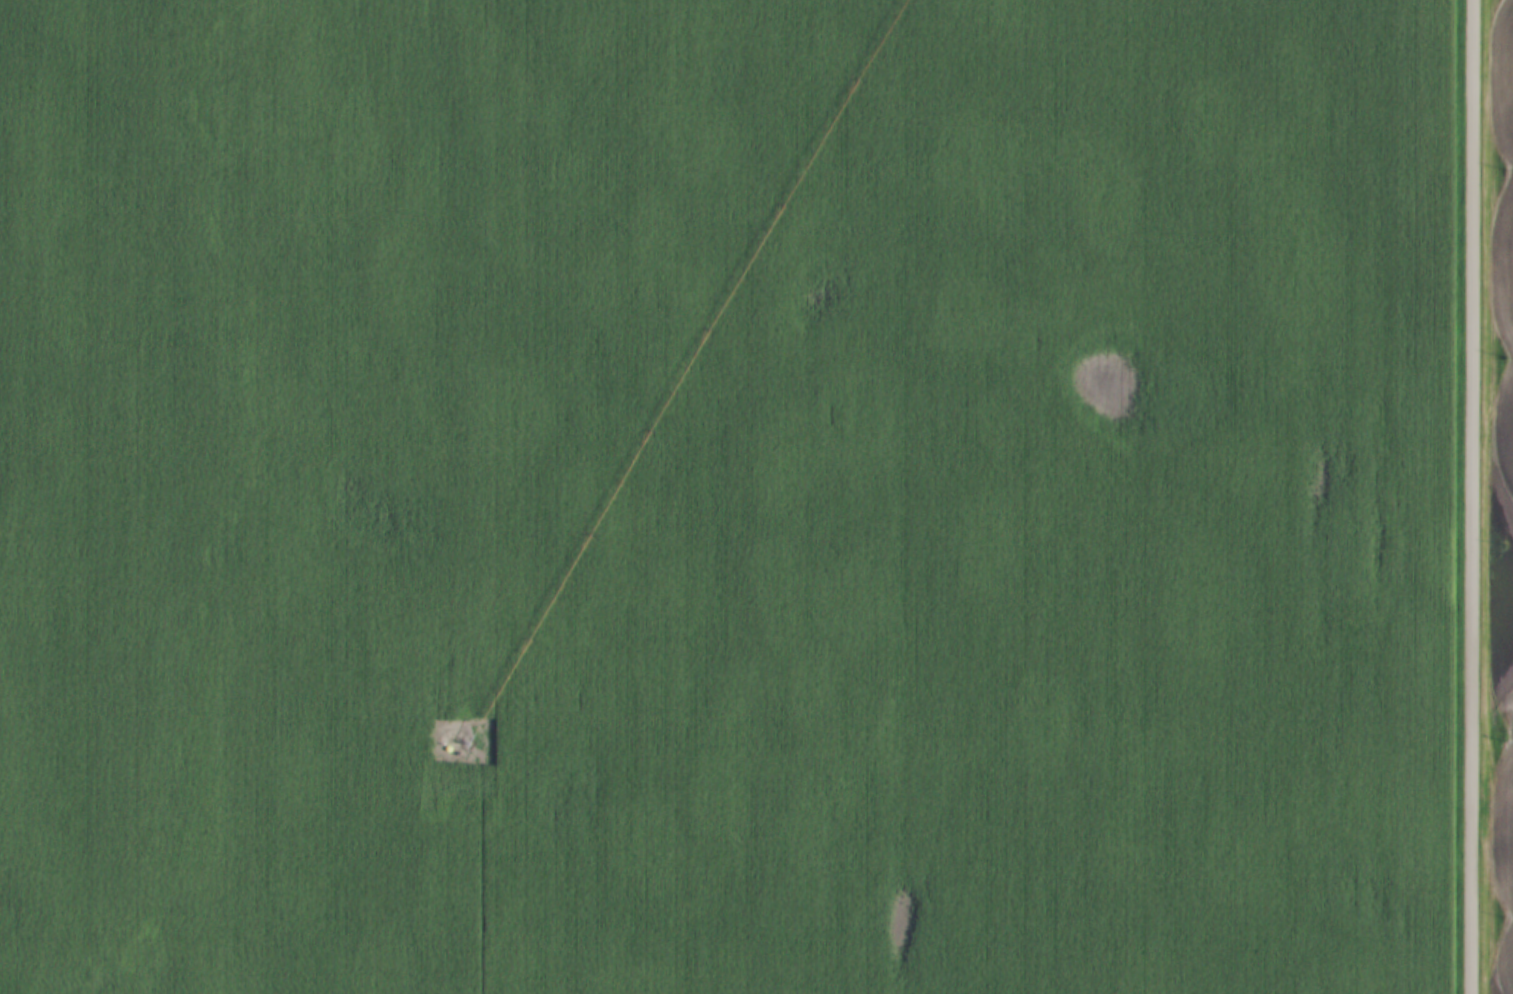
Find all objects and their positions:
road: (1472, 496)

